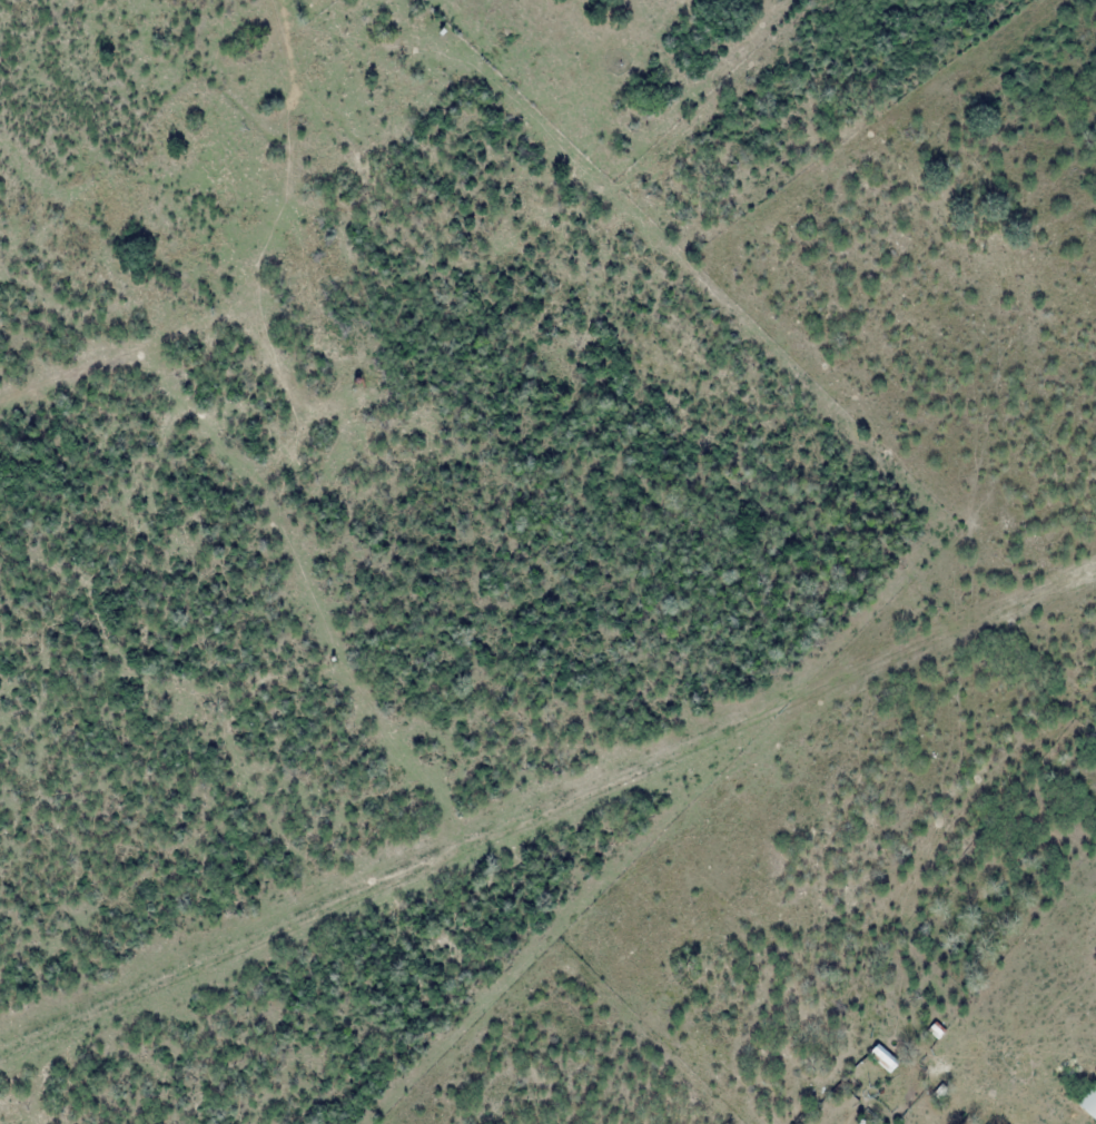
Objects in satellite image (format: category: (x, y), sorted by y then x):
building: (882, 1058)
road: (988, 1092)
building: (1089, 1102)
road: (1083, 1123)

